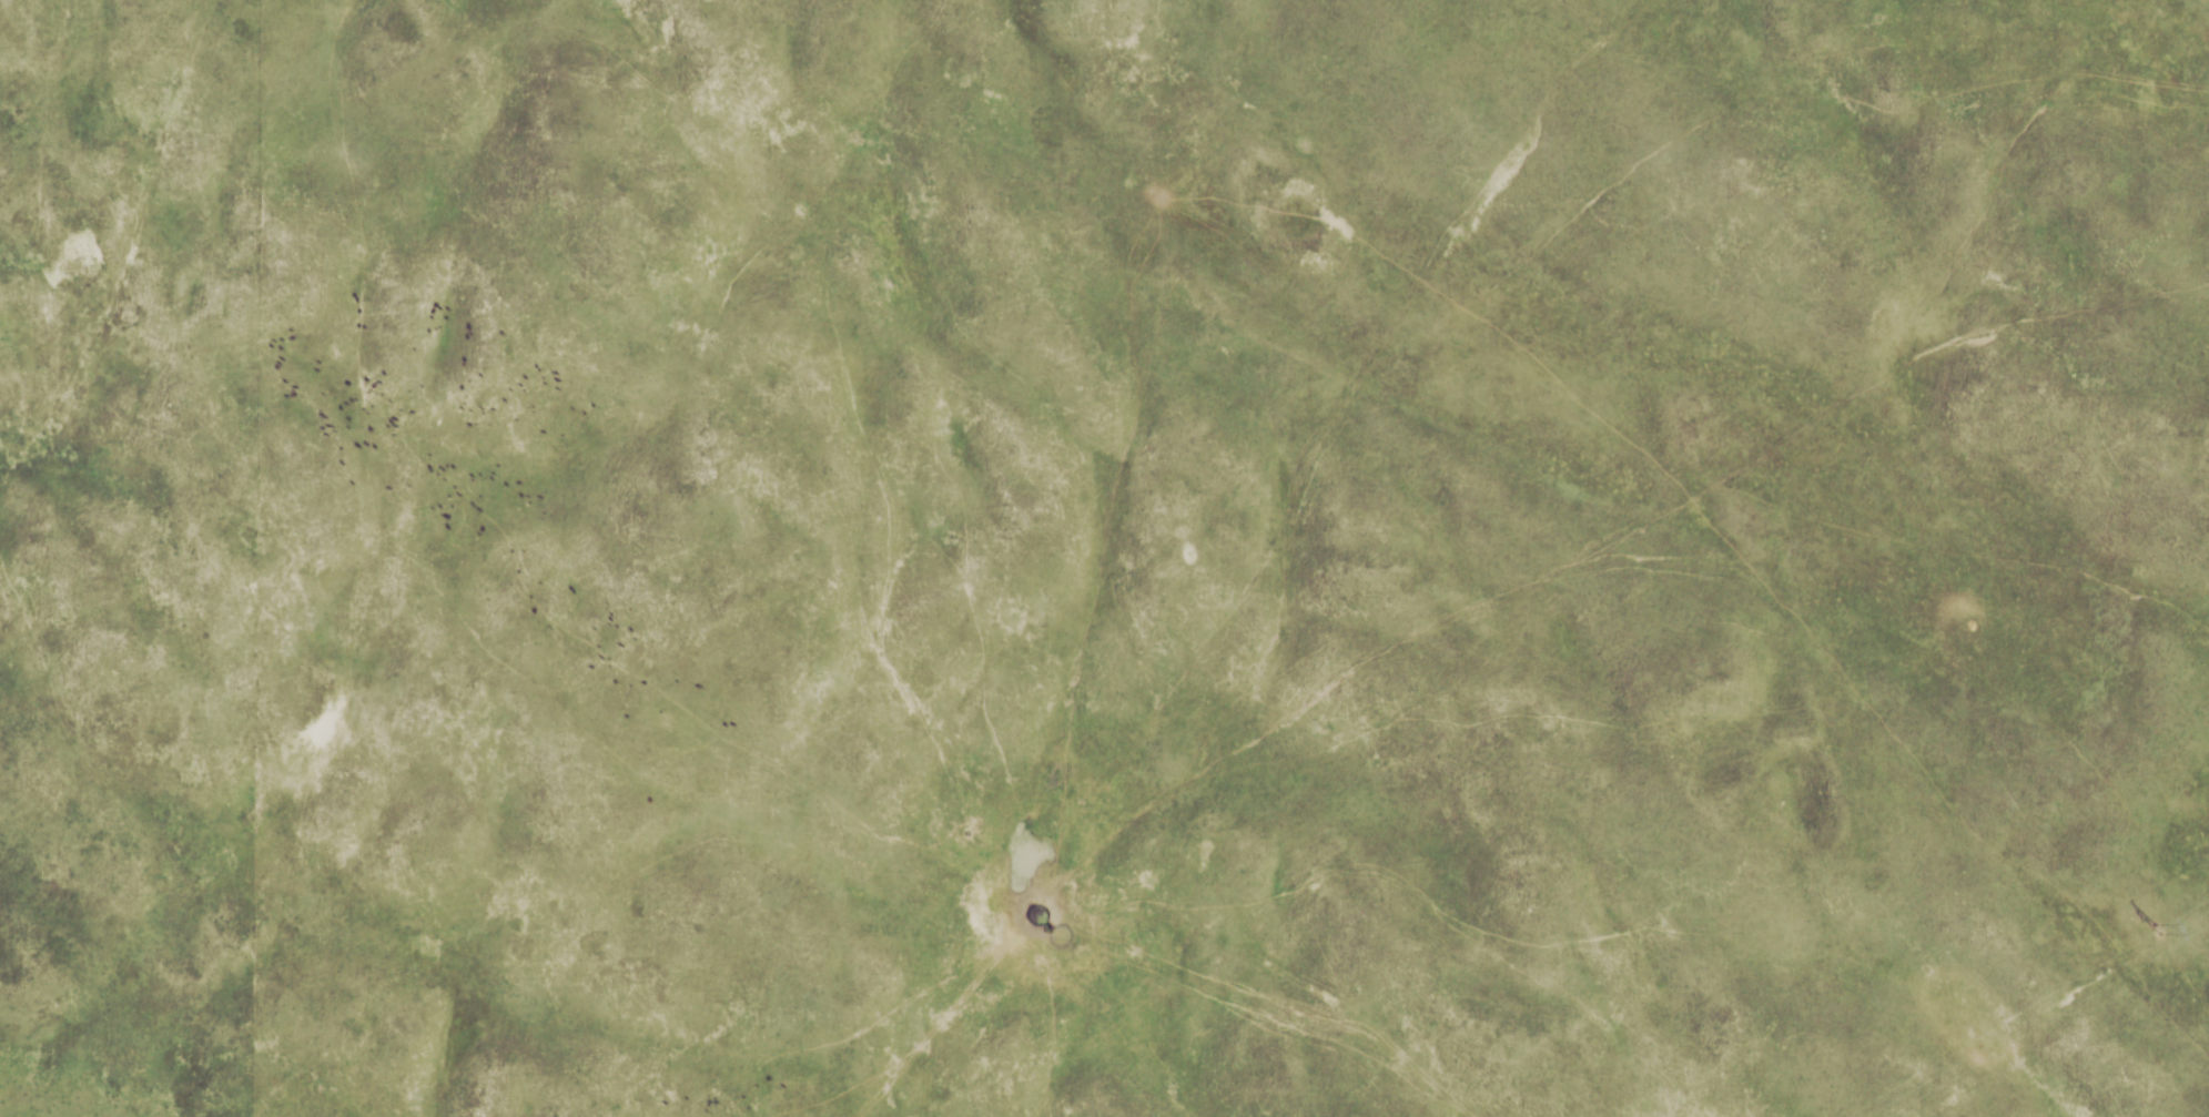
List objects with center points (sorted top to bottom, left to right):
power tower: (2159, 930)

